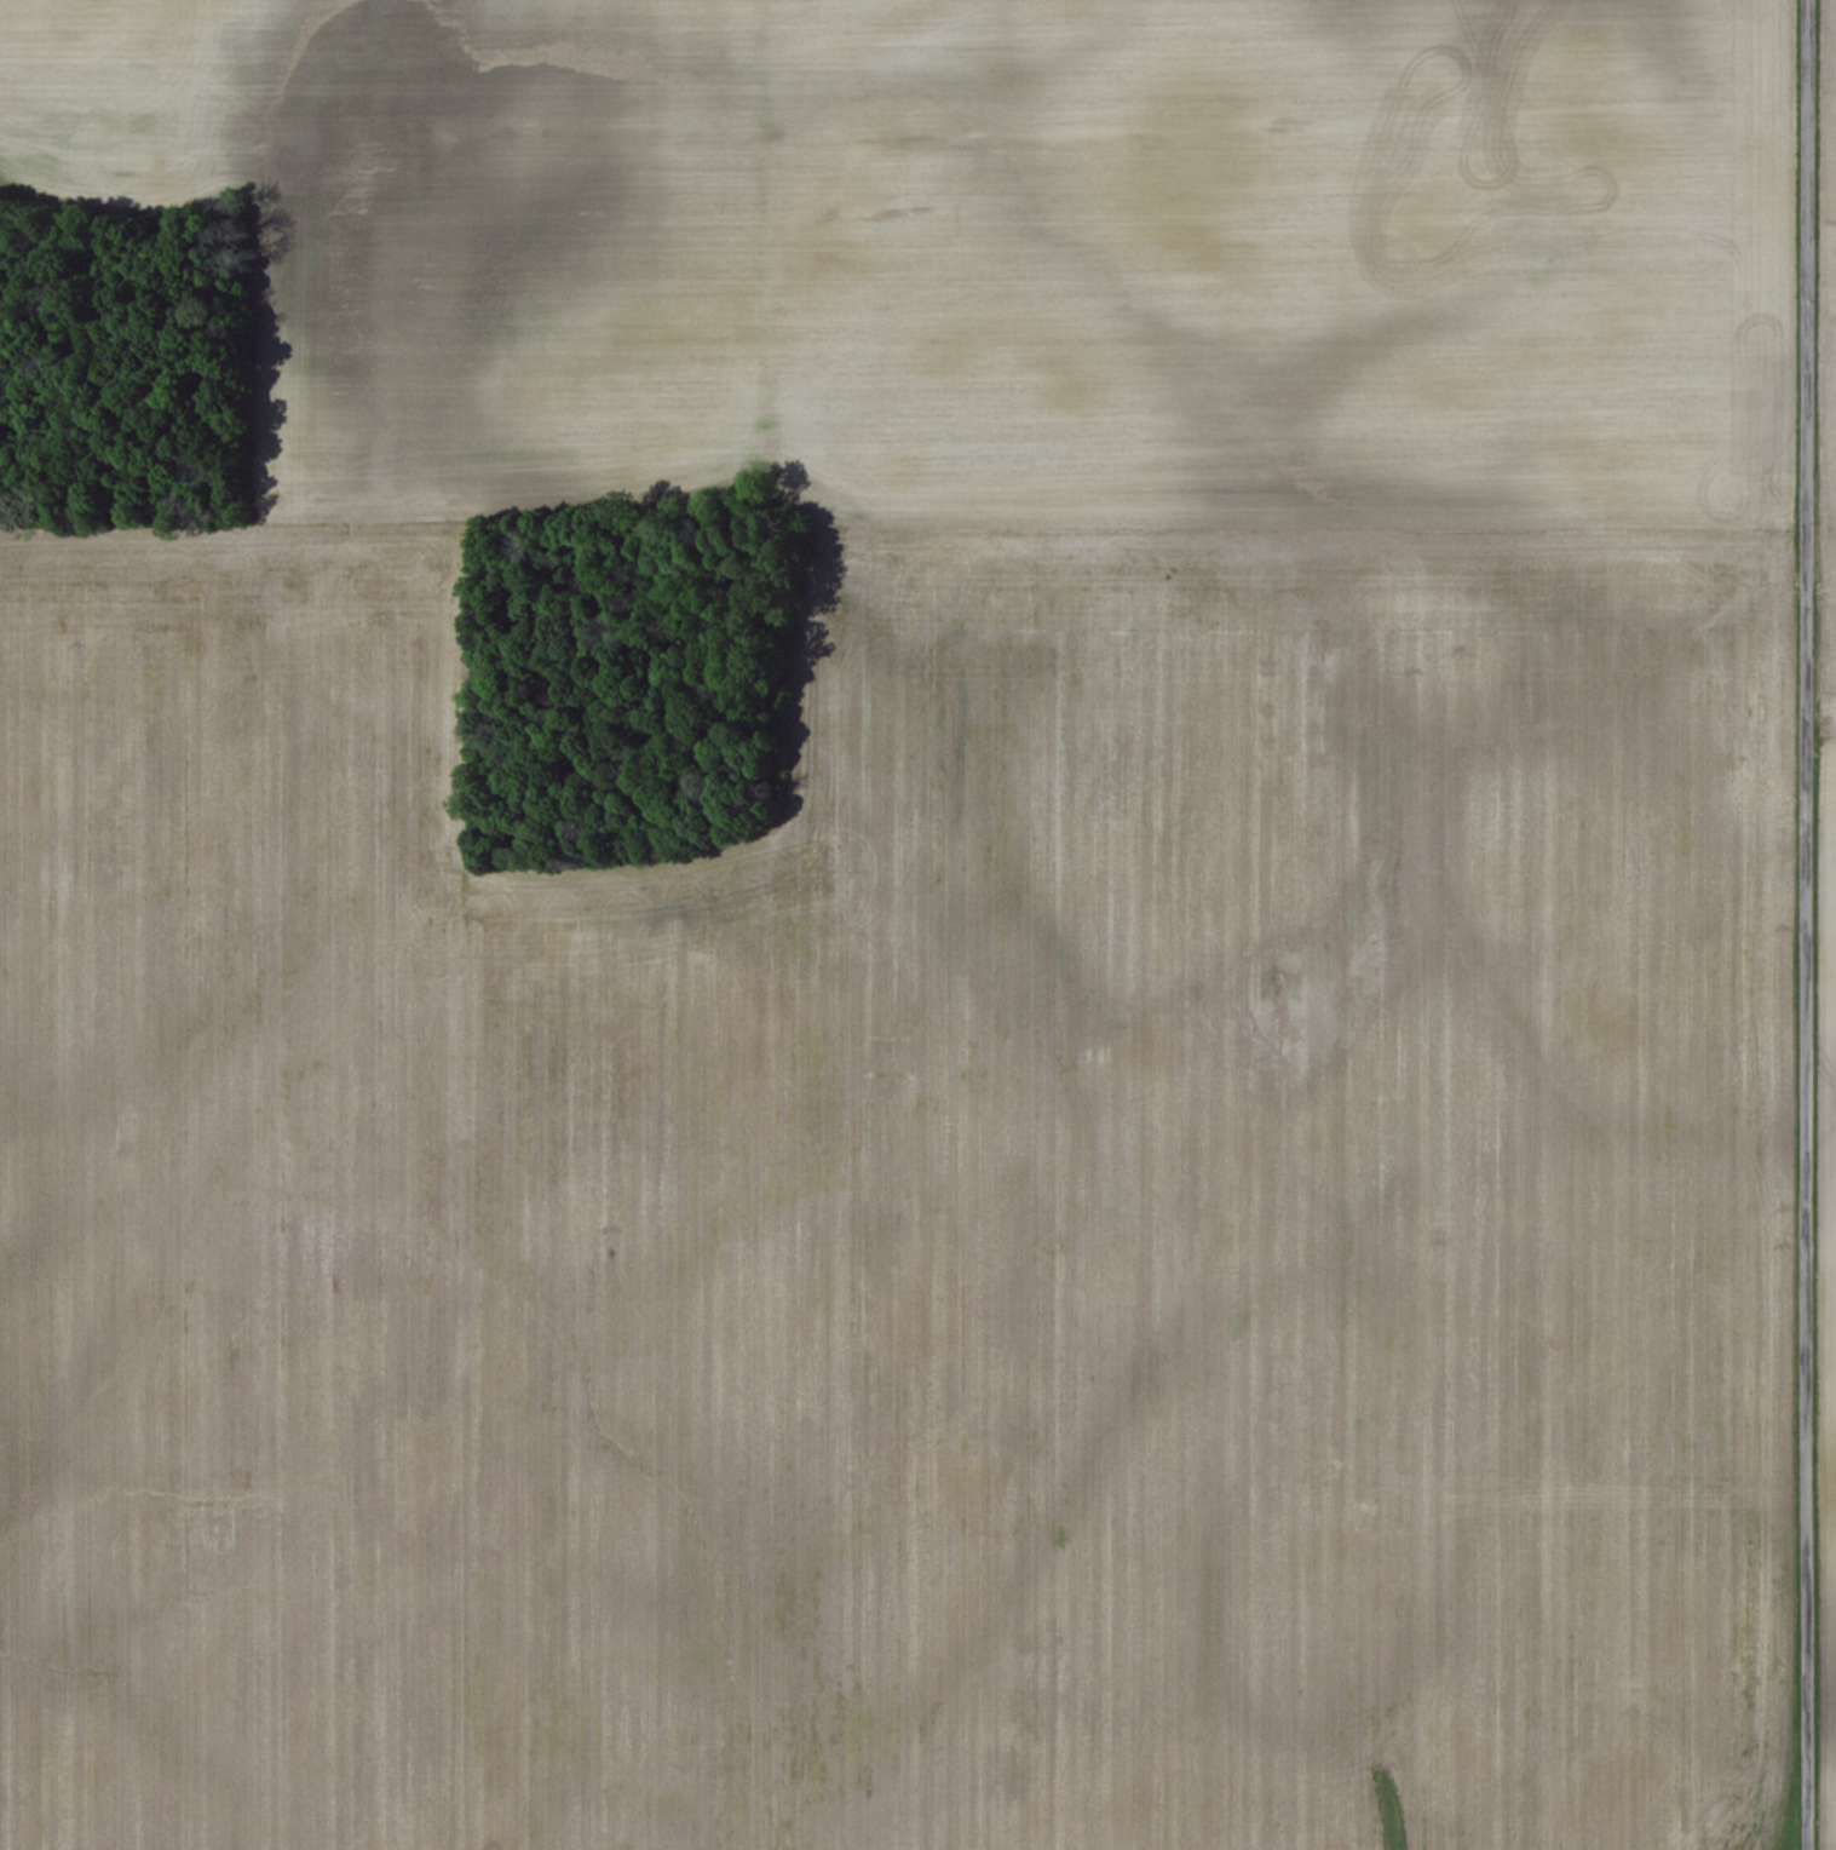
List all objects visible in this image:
road: (1800, 925)

